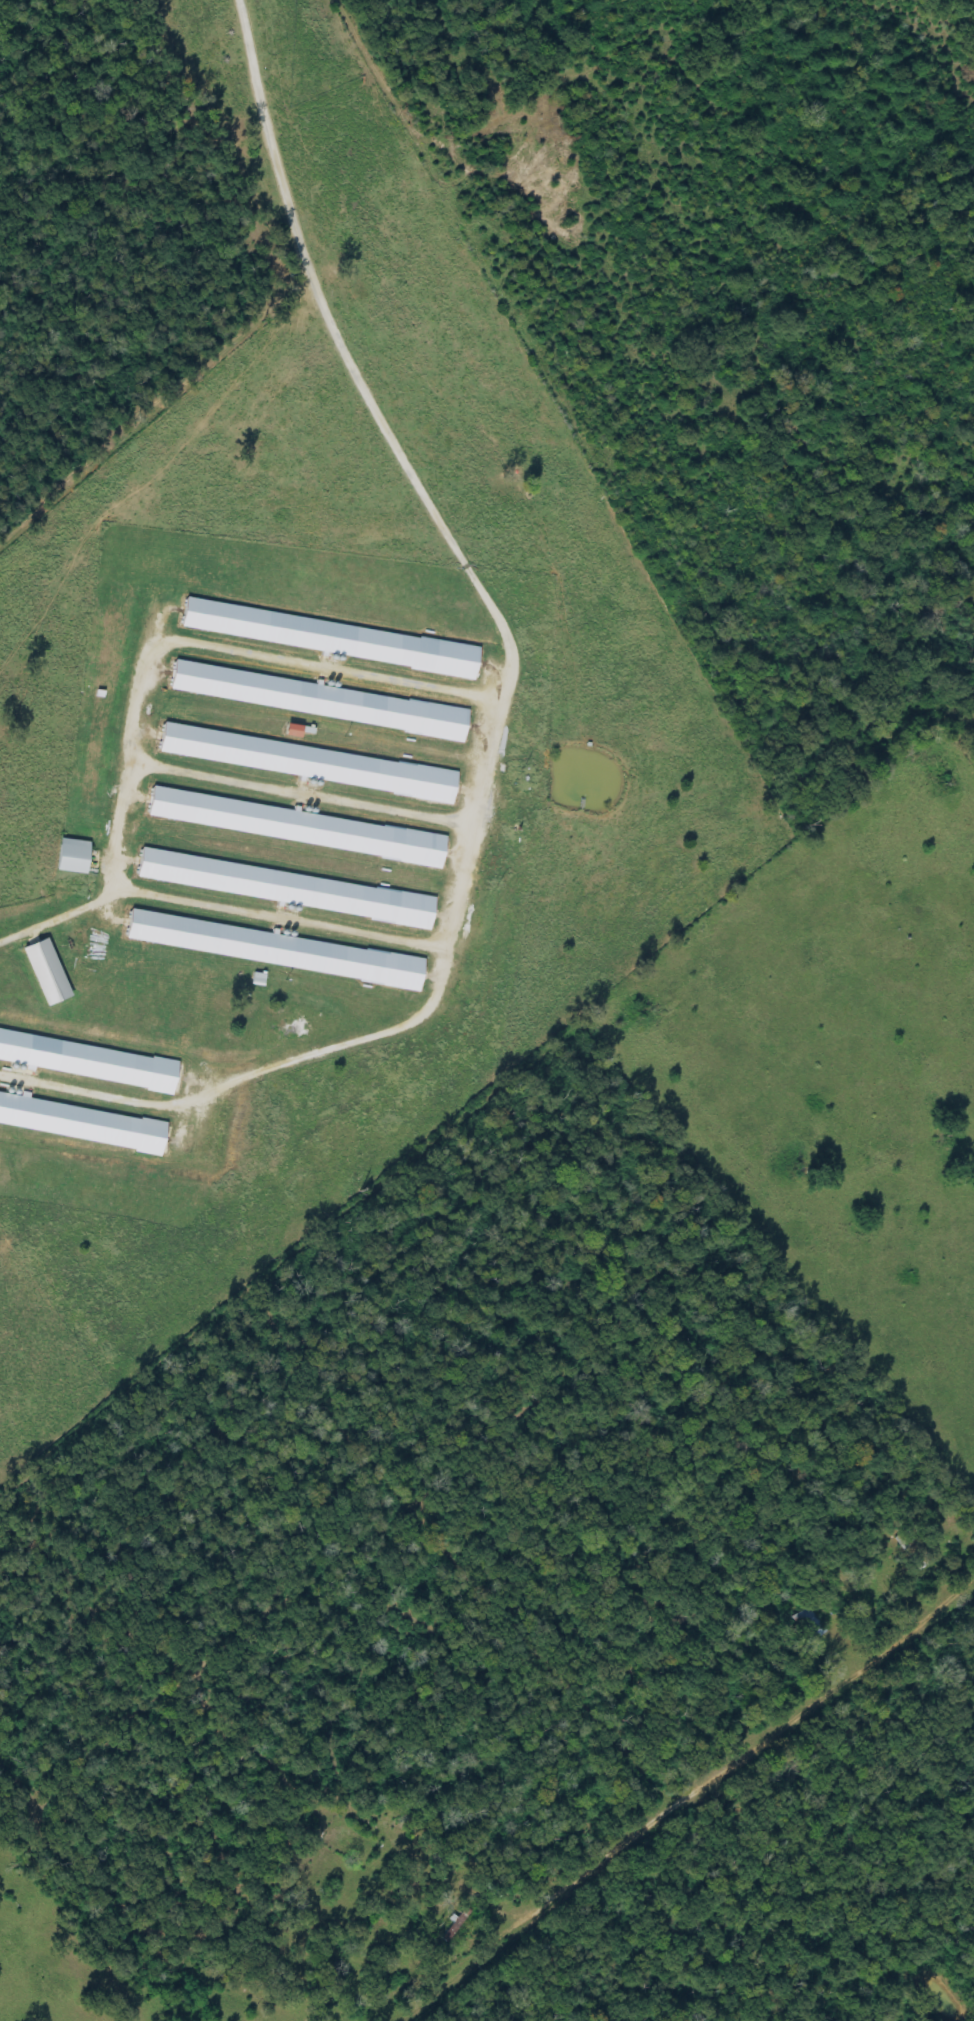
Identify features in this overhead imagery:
building: (334, 639)
building: (323, 701)
building: (312, 763)
building: (301, 827)
building: (77, 857)
building: (290, 889)
building: (279, 950)
building: (51, 973)
building: (90, 1061)
building: (82, 1123)

